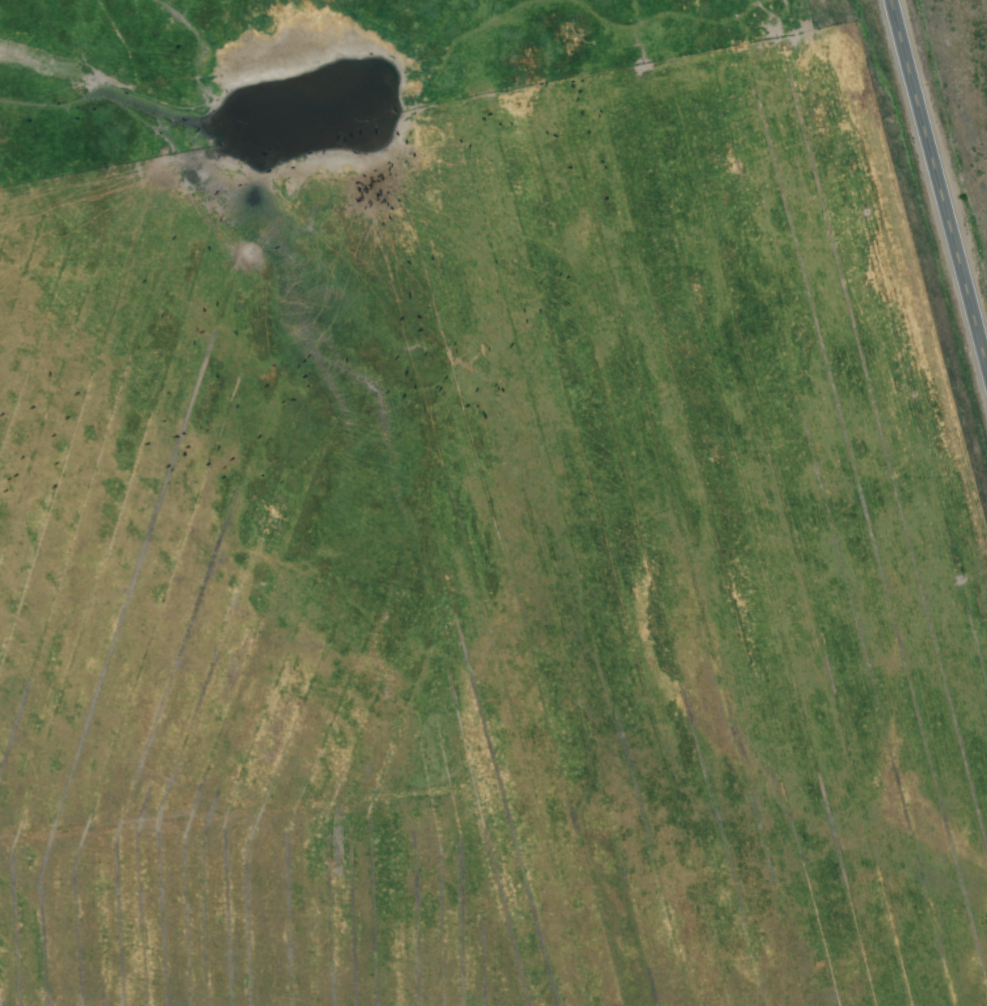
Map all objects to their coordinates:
wastewater plant: (306, 89)
road: (934, 196)

